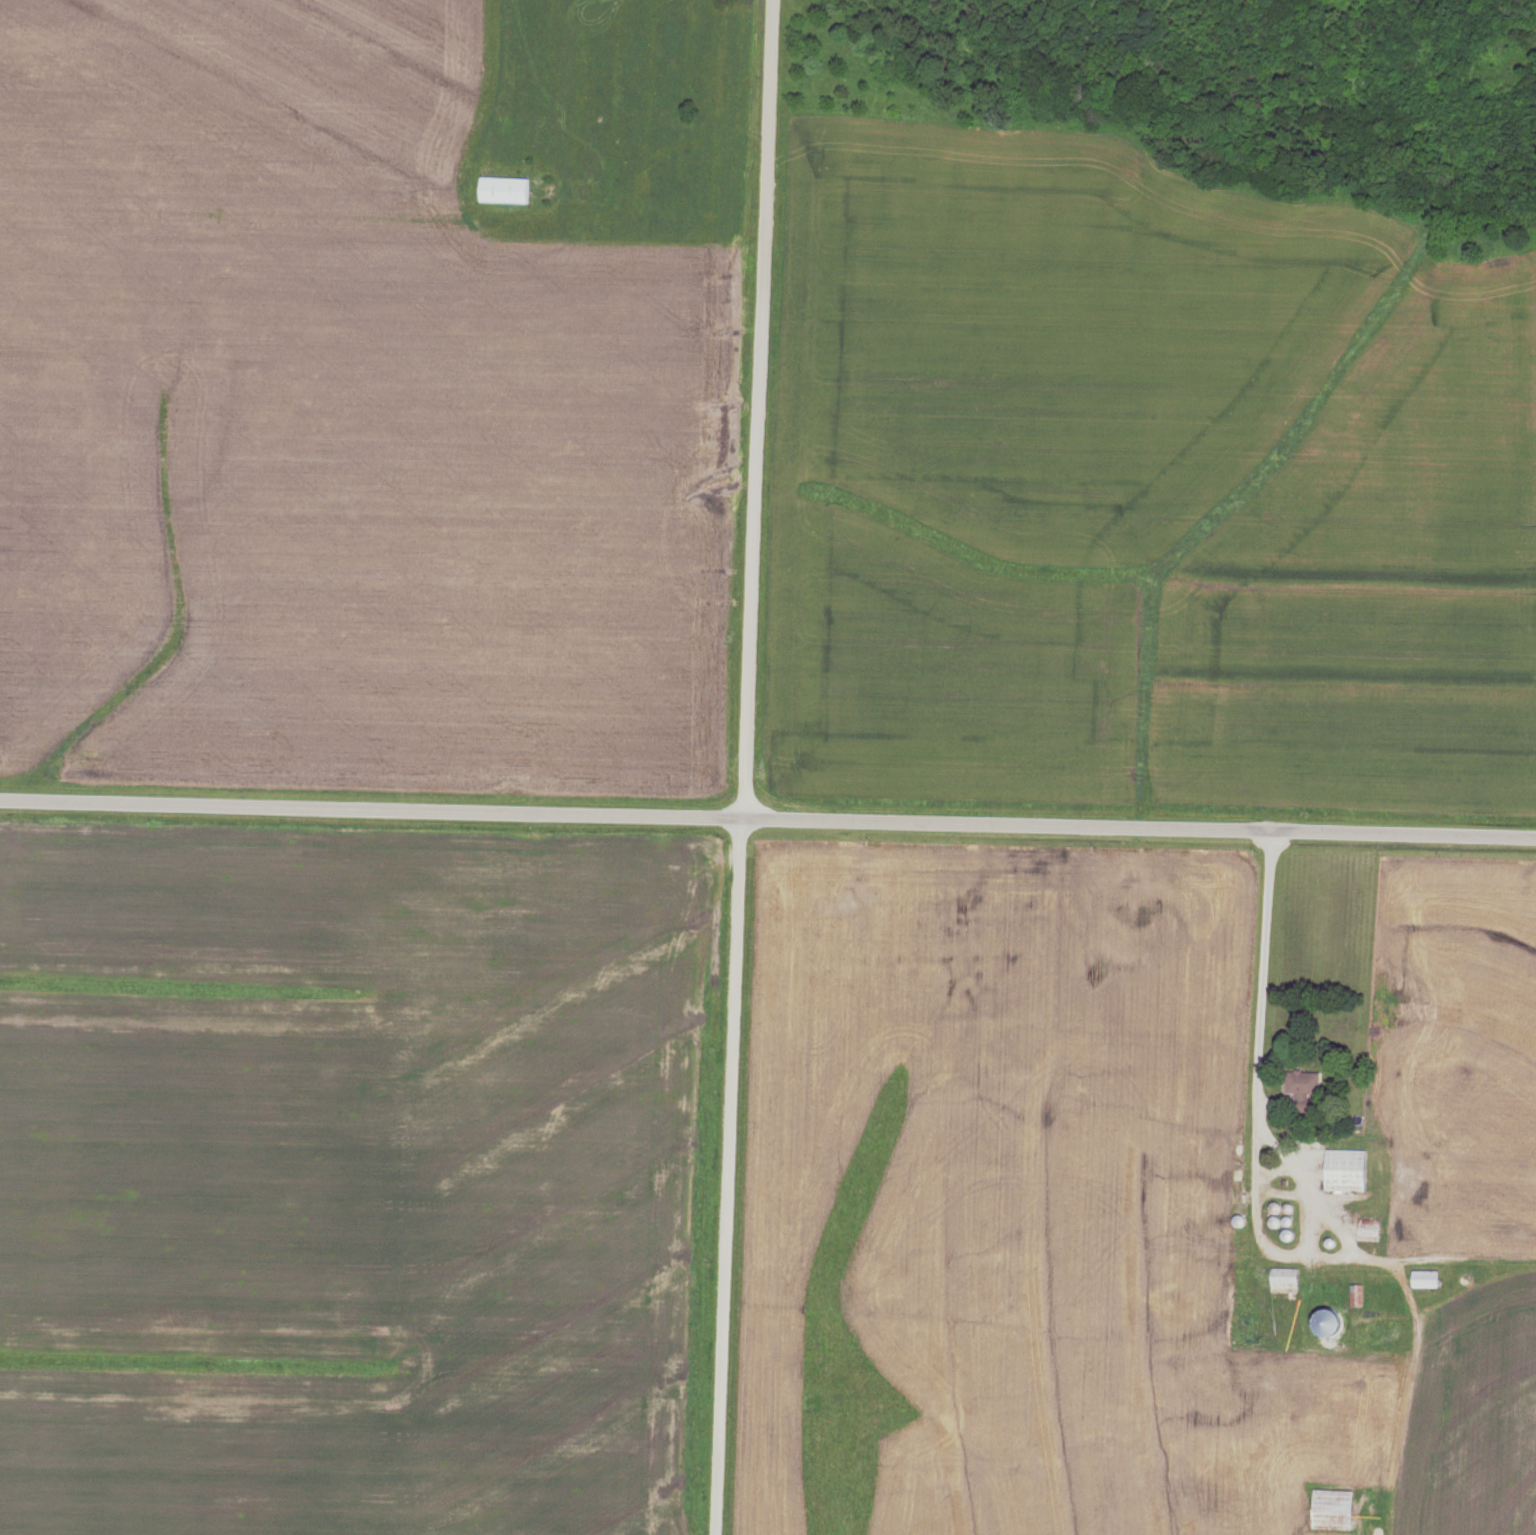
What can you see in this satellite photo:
building: (504, 190)
road: (739, 767)
road: (768, 819)
building: (1302, 1091)
road: (1253, 1129)
building: (1344, 1171)
building: (1368, 1230)
building: (1283, 1279)
building: (1424, 1279)
building: (1355, 1295)
building: (1332, 1509)

